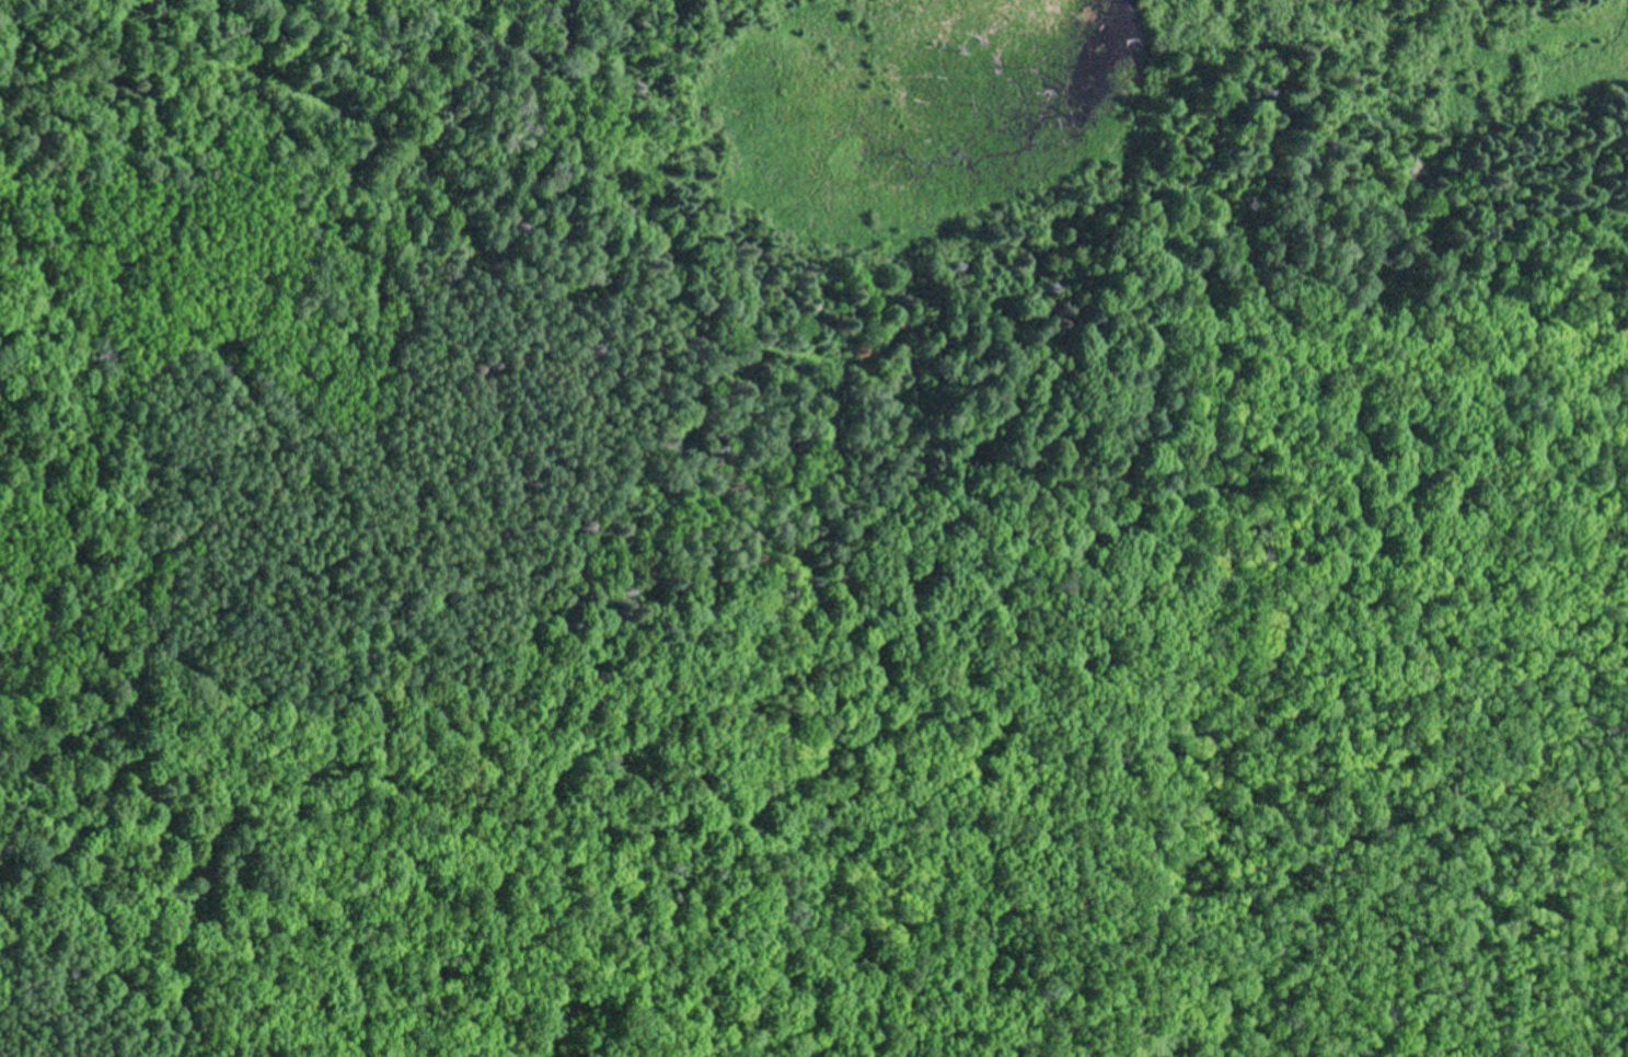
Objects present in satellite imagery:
road: (740, 797)

